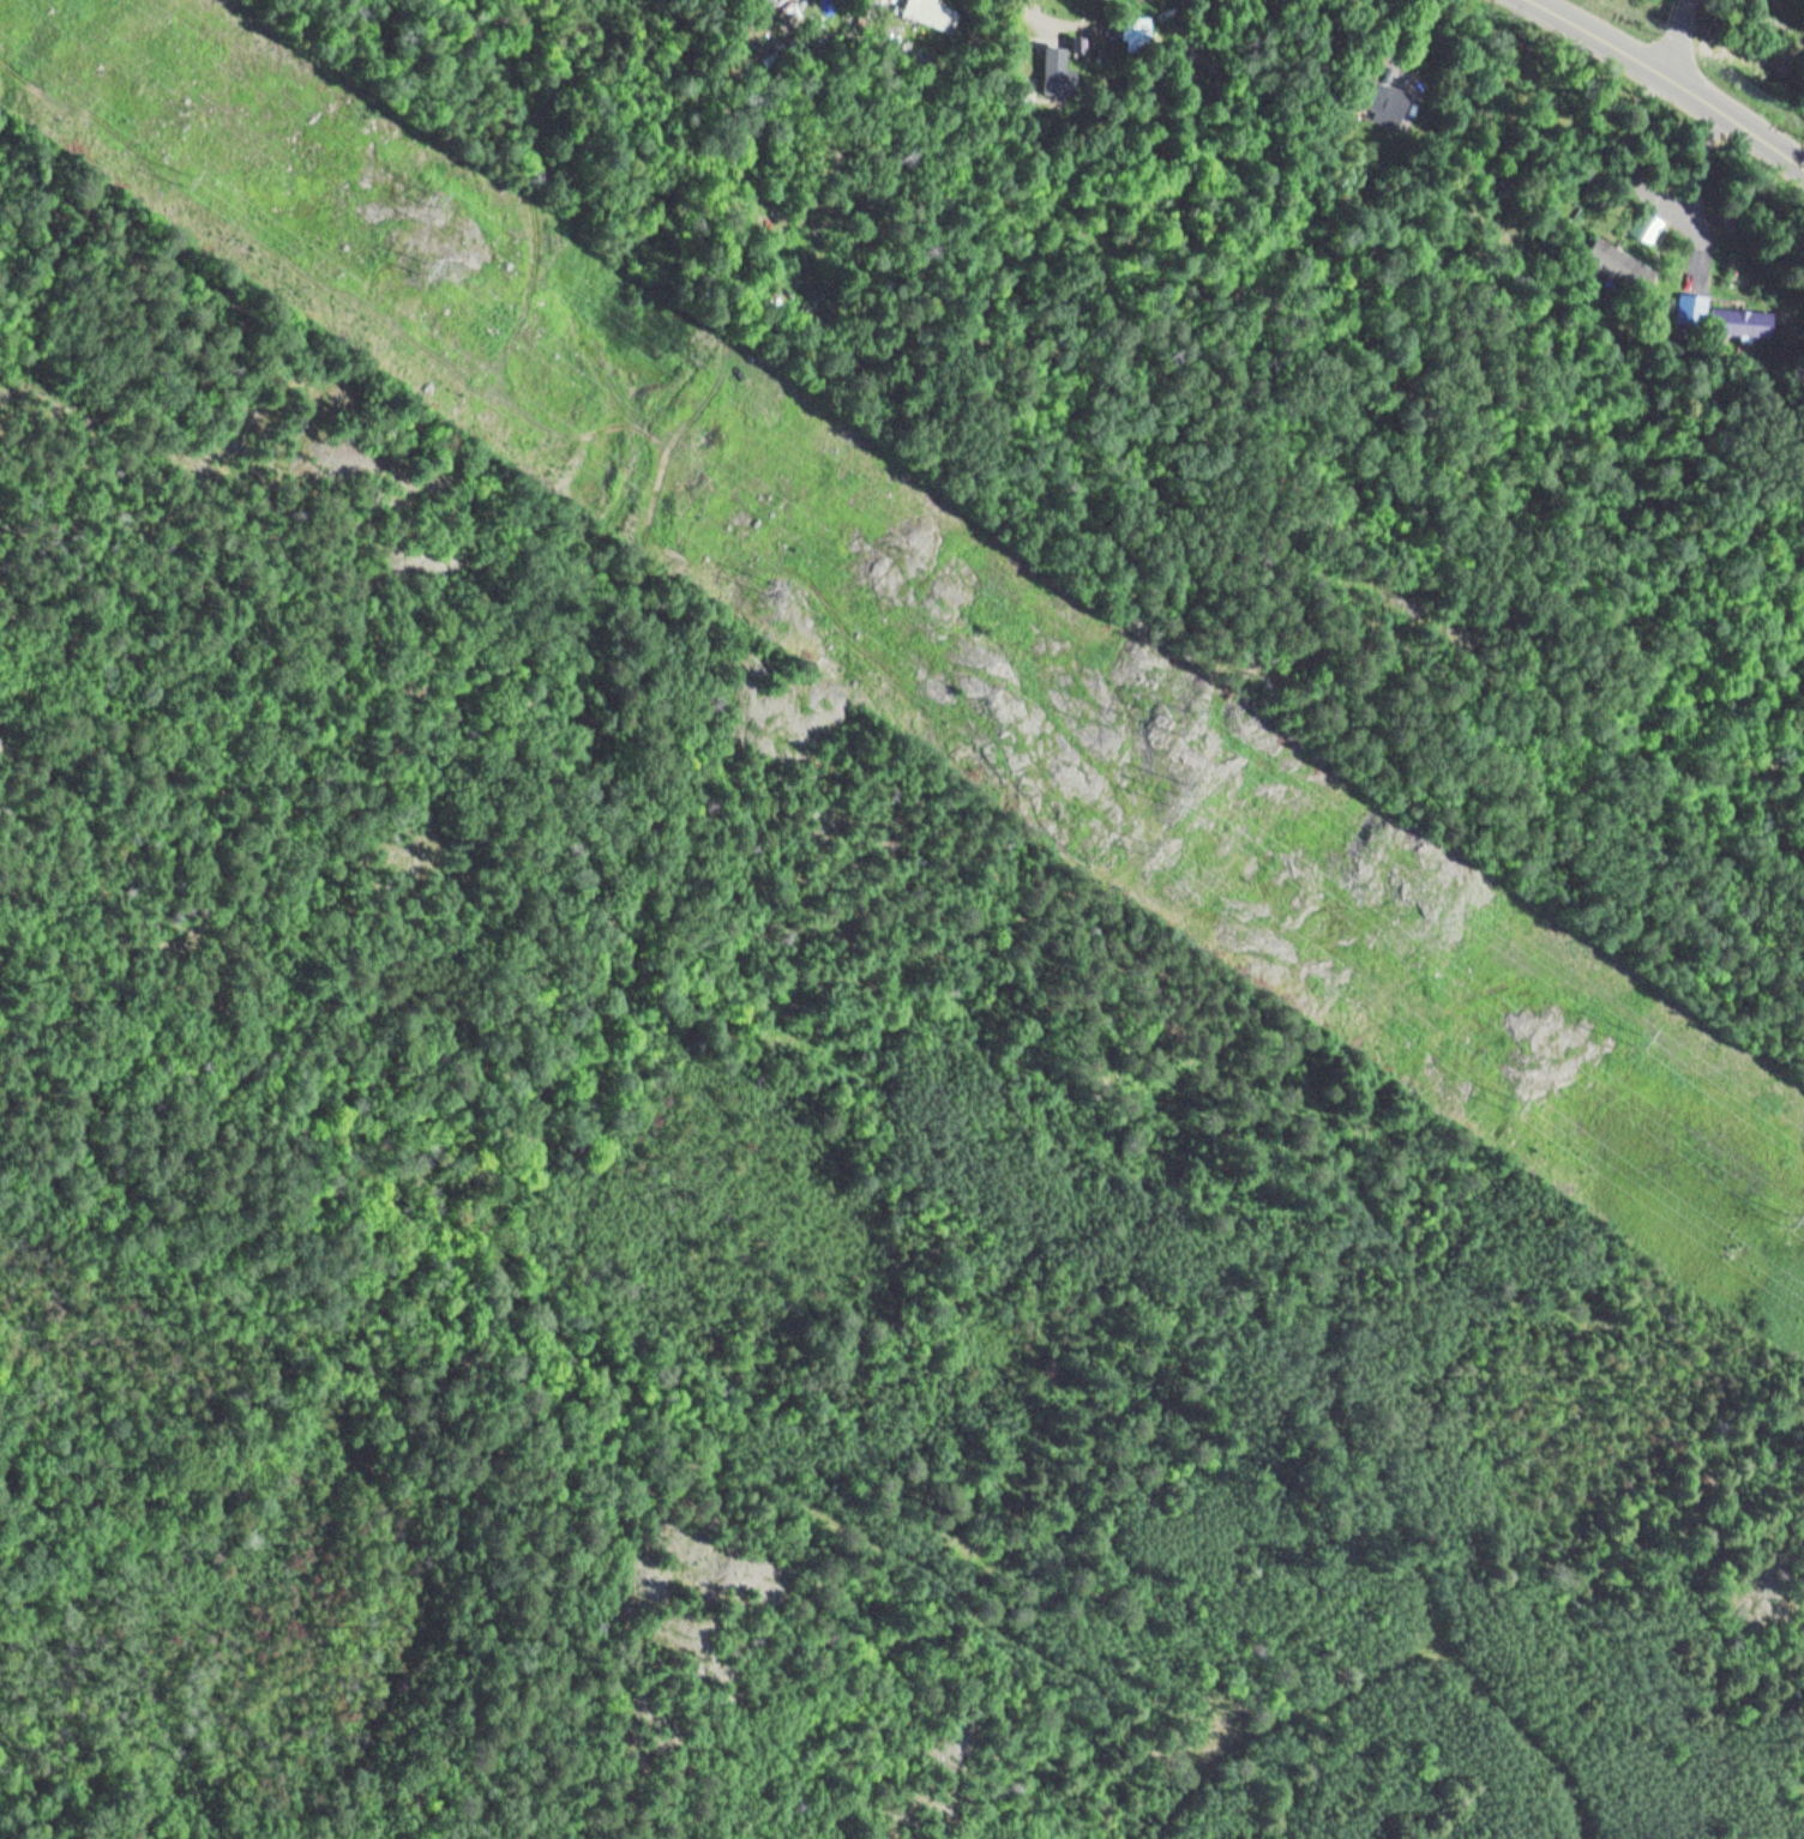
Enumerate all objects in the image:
building: (933, 13)
building: (1137, 30)
road: (1602, 38)
road: (1671, 38)
building: (1058, 70)
building: (1379, 96)
road: (1731, 131)
power tower: (179, 182)
power tower: (435, 201)
building: (1648, 229)
building: (1619, 265)
power tower: (423, 271)
building: (1697, 310)
building: (1745, 322)
power tower: (771, 590)
power tower: (1183, 724)
power tower: (1177, 796)
power tower: (1148, 857)
power tower: (1641, 1036)
power tower: (1517, 1102)
power tower: (1796, 1219)

